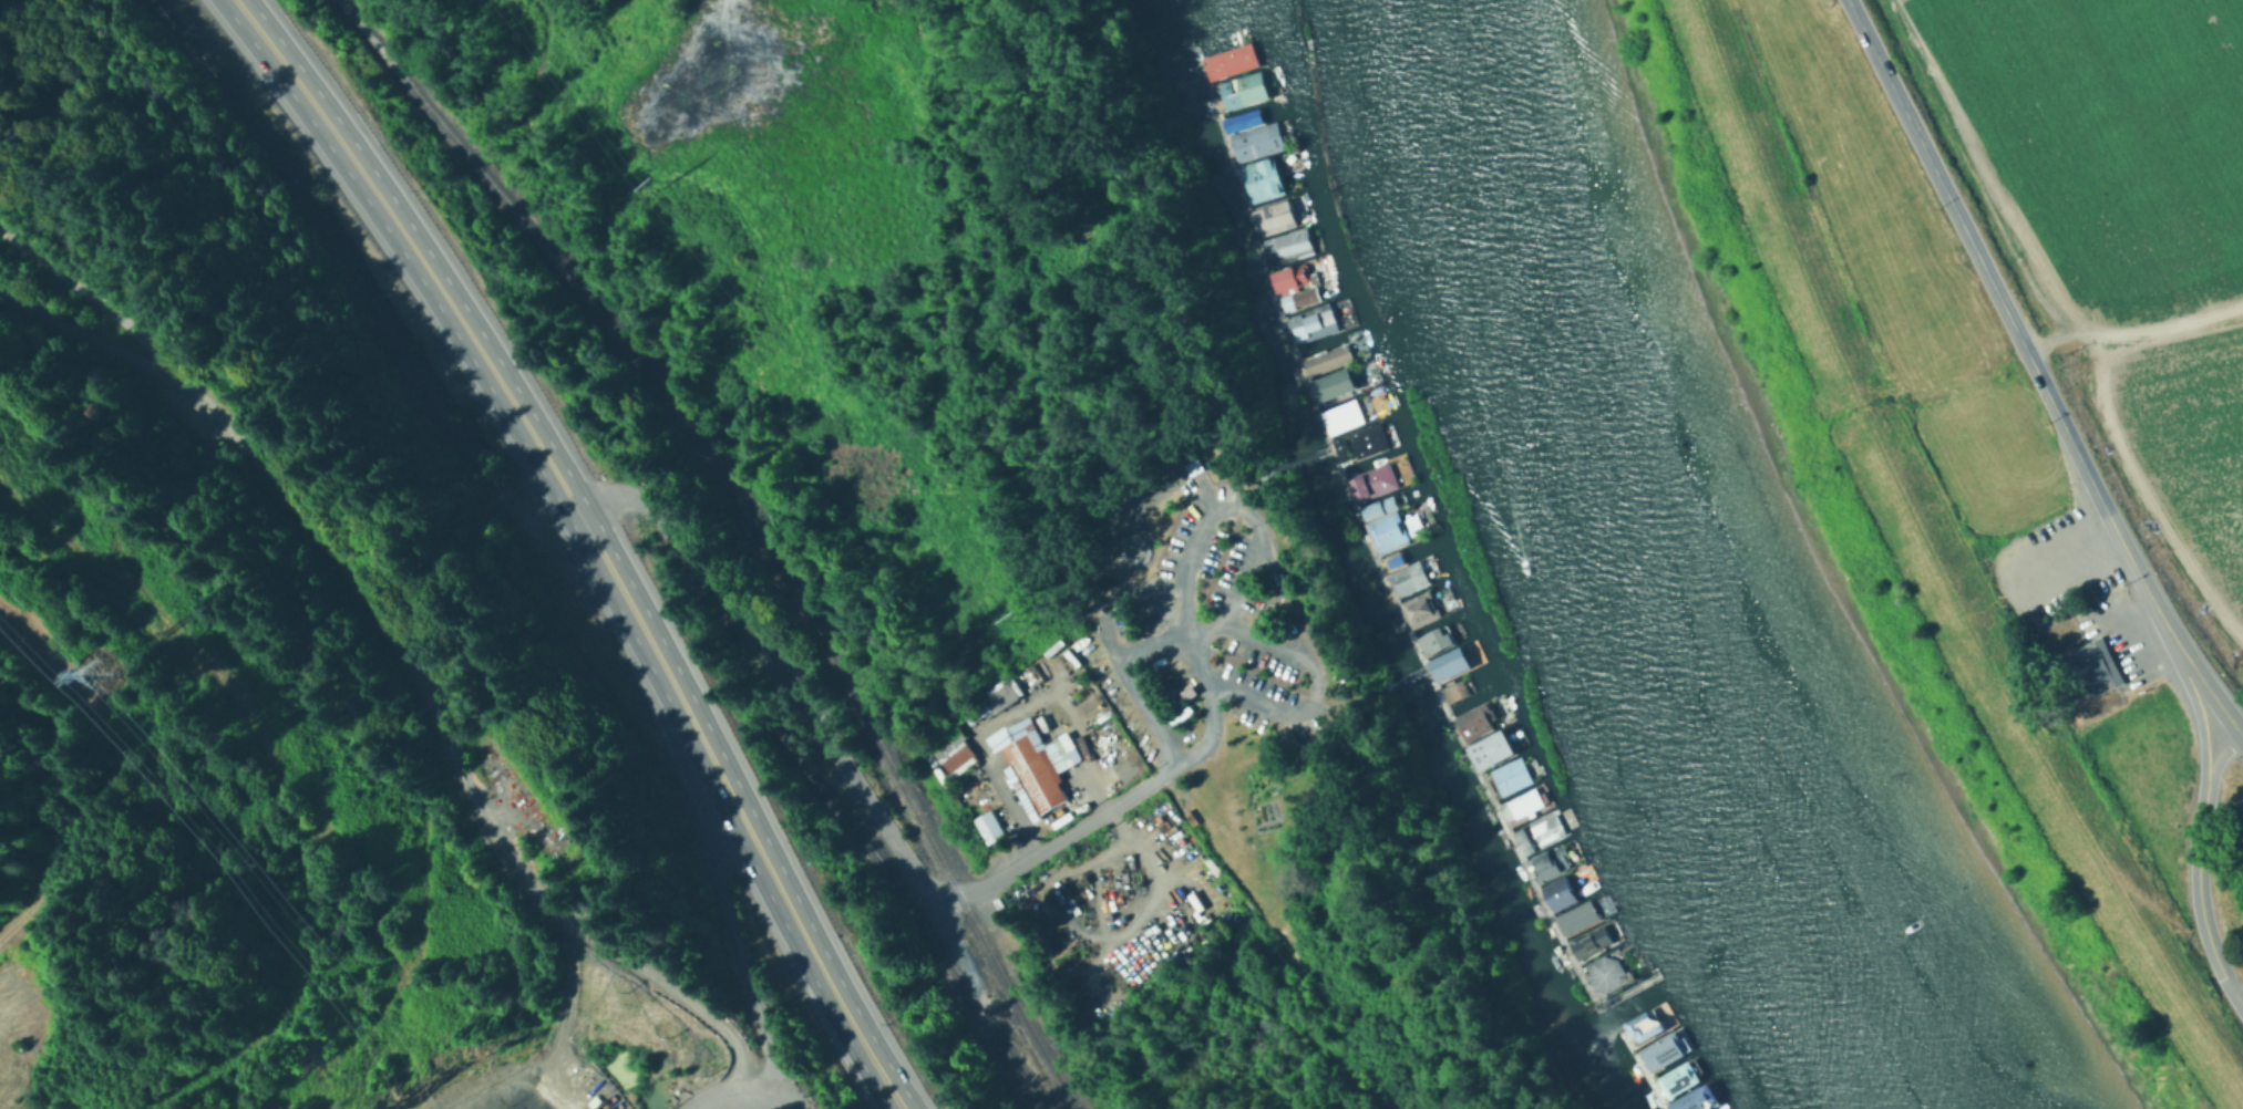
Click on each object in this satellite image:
building: (1224, 58)
building: (1238, 84)
building: (1237, 115)
building: (1252, 137)
crop: (2107, 137)
road: (1938, 173)
building: (1257, 175)
building: (1274, 210)
railway: (302, 230)
building: (1285, 238)
building: (1298, 268)
building: (1295, 296)
building: (1316, 315)
road: (114, 346)
building: (1331, 350)
building: (1937, 364)
building: (1339, 377)
building: (1348, 408)
road: (2065, 425)
crop: (2191, 427)
building: (1360, 443)
pier: (1293, 463)
building: (1192, 464)
building: (1375, 475)
building: (1375, 501)
building: (1388, 526)
parking lot: (1200, 528)
railway: (747, 529)
road: (593, 540)
road: (1253, 554)
building: (1389, 556)
road: (2068, 557)
river: (1687, 567)
pier: (1378, 570)
building: (1408, 572)
parking lot: (1243, 578)
road: (2142, 579)
road: (1108, 593)
building: (2082, 593)
building: (1421, 602)
parking lot: (1119, 614)
road: (2116, 615)
parking lot: (2121, 630)
building: (1433, 633)
road: (2061, 643)
road: (395, 650)
parking lot: (1262, 651)
building: (1445, 655)
building: (2087, 670)
road: (2150, 671)
power tower: (85, 675)
road: (1054, 675)
road: (1313, 677)
road: (1129, 683)
pier: (1393, 683)
building: (1451, 686)
road: (1029, 687)
building: (1187, 690)
building: (1006, 693)
road: (2211, 694)
parking lot: (1117, 699)
parking lot: (1268, 702)
building: (1479, 712)
road: (2198, 716)
parking lot: (1182, 724)
road: (2240, 737)
building: (1488, 740)
building: (955, 749)
road: (2220, 755)
road: (1089, 760)
building: (1037, 763)
building: (1505, 770)
quarry: (288, 790)
building: (1520, 799)
building: (991, 825)
building: (1532, 827)
building: (1549, 854)
road: (1061, 870)
building: (1560, 883)
road: (933, 884)
road: (1095, 884)
road: (2199, 898)
railway: (915, 911)
building: (1576, 912)
road: (1074, 925)
building: (1591, 936)
road: (742, 961)
building: (1606, 966)
road: (570, 989)
building: (1643, 1019)
building: (1660, 1045)
pier: (1640, 1071)
building: (1676, 1071)
parking lot: (594, 1089)
road: (738, 1092)
building: (1690, 1096)
road: (776, 1101)
building: (1716, 1107)

